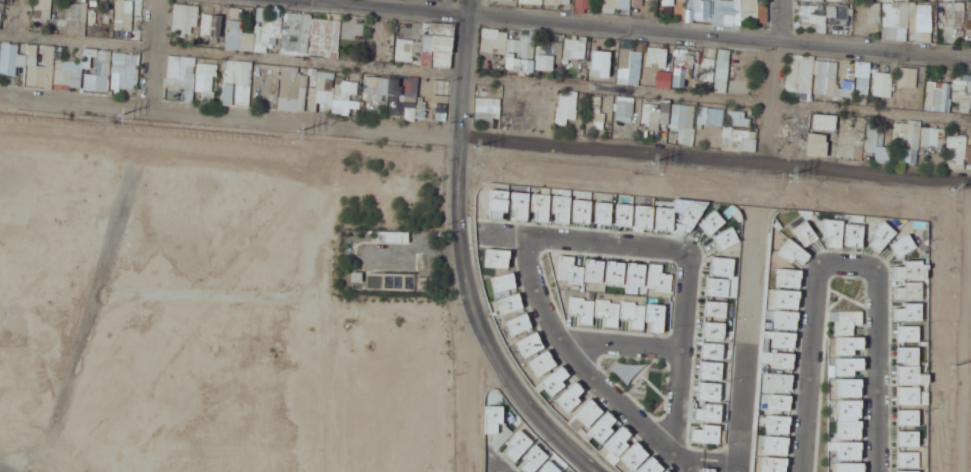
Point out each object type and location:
road: (471, 8)
road: (153, 52)

